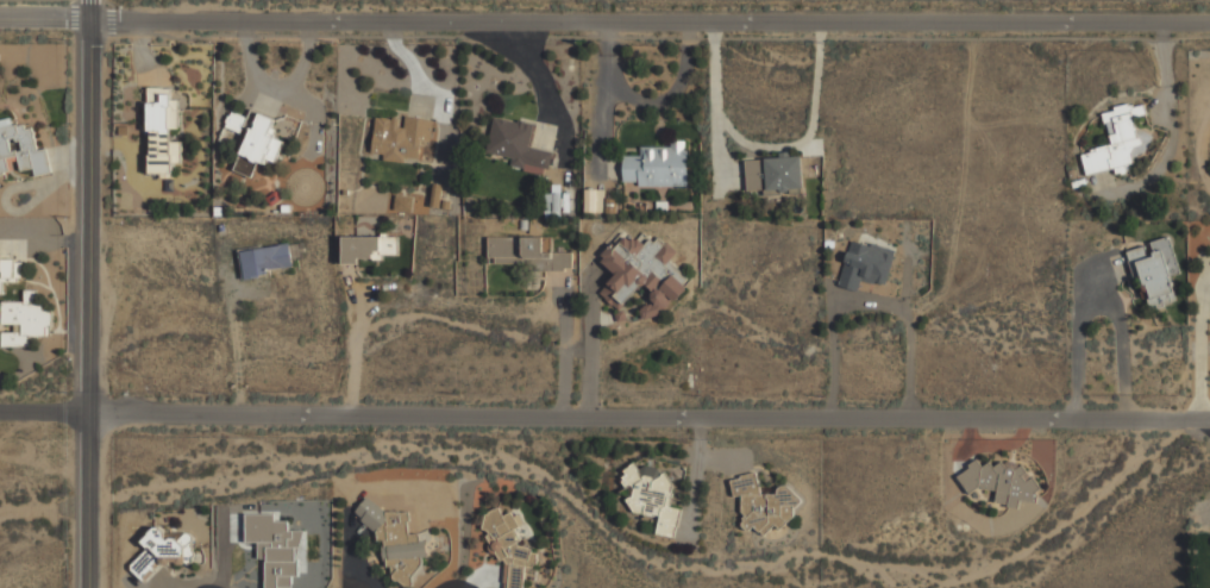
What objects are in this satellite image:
road: (604, 8)
building: (162, 110)
building: (236, 121)
building: (1117, 139)
building: (401, 140)
building: (515, 144)
building: (258, 145)
building: (20, 149)
building: (654, 165)
building: (773, 174)
building: (435, 195)
building: (594, 200)
building: (552, 202)
building: (359, 248)
building: (526, 251)
building: (265, 259)
building: (866, 264)
building: (11, 269)
building: (1155, 269)
building: (640, 273)
road: (94, 294)
building: (25, 319)
road: (353, 338)
road: (593, 338)
road: (237, 343)
road: (562, 344)
road: (604, 402)
building: (1002, 482)
building: (652, 495)
building: (763, 503)
building: (394, 539)
building: (507, 546)
building: (275, 548)
building: (162, 551)
road: (203, 587)
road: (447, 587)

